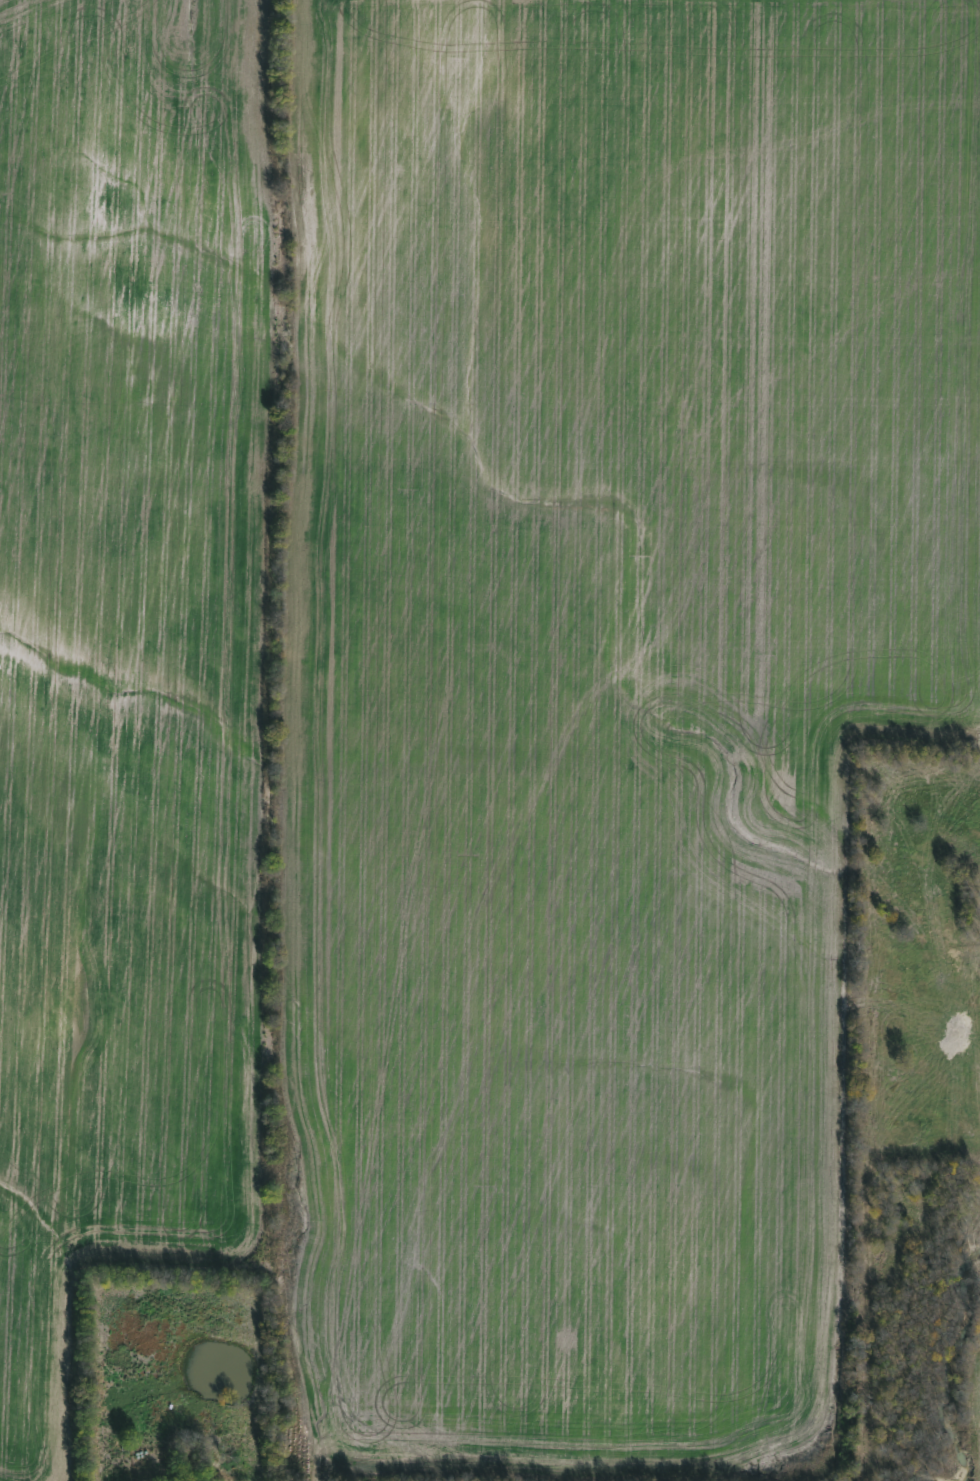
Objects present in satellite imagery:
road: (868, 336)

